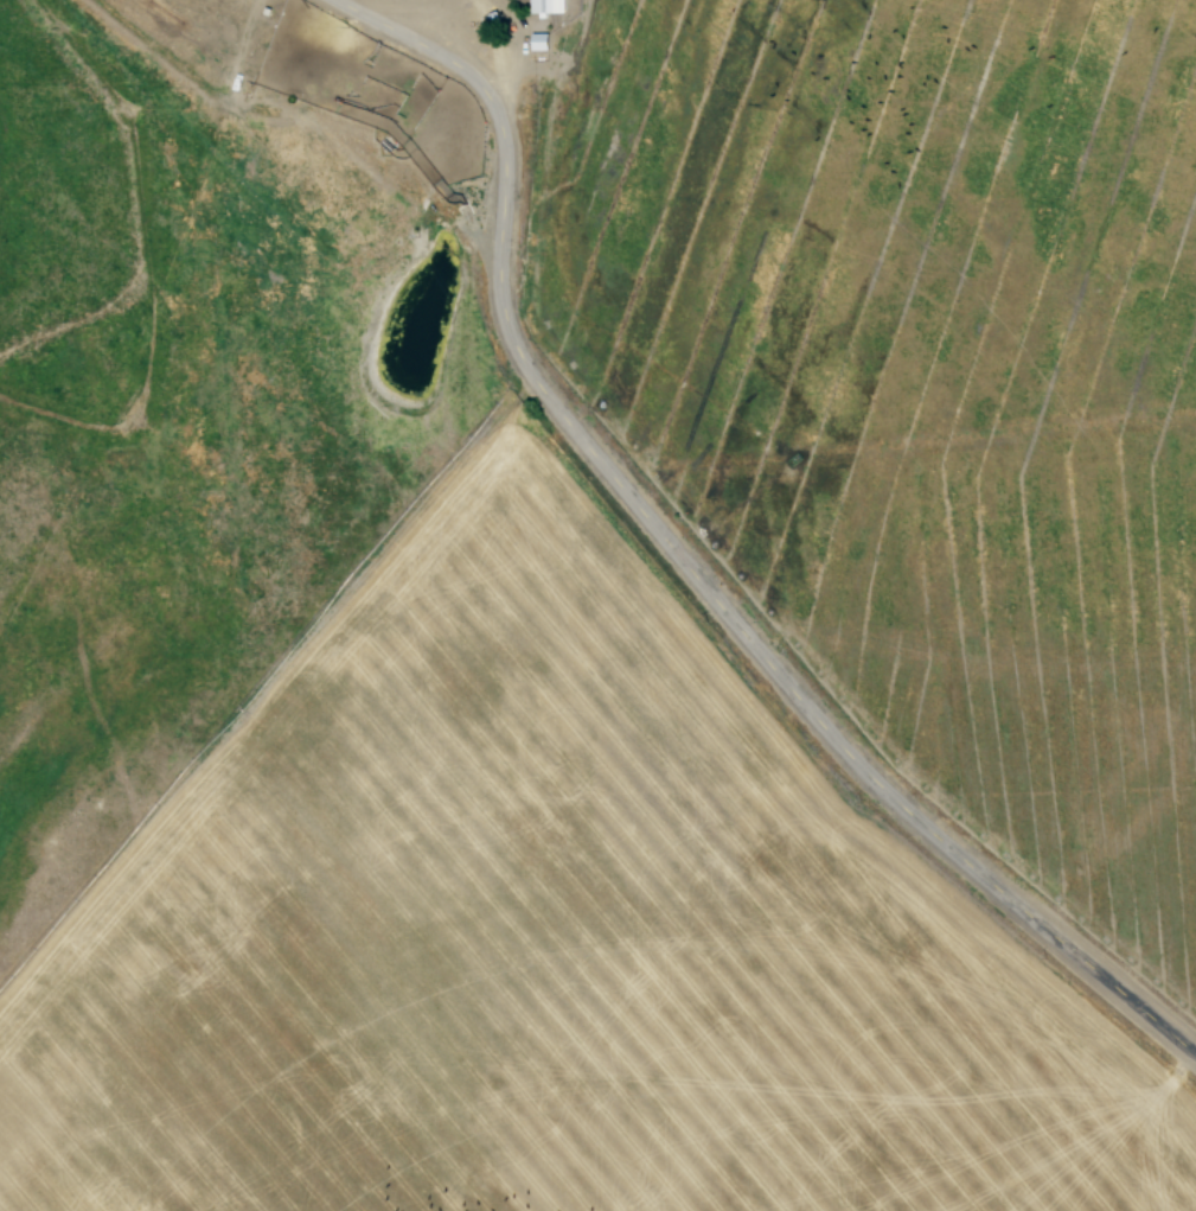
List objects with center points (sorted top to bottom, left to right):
building: (546, 6)
building: (542, 42)
road: (677, 566)

